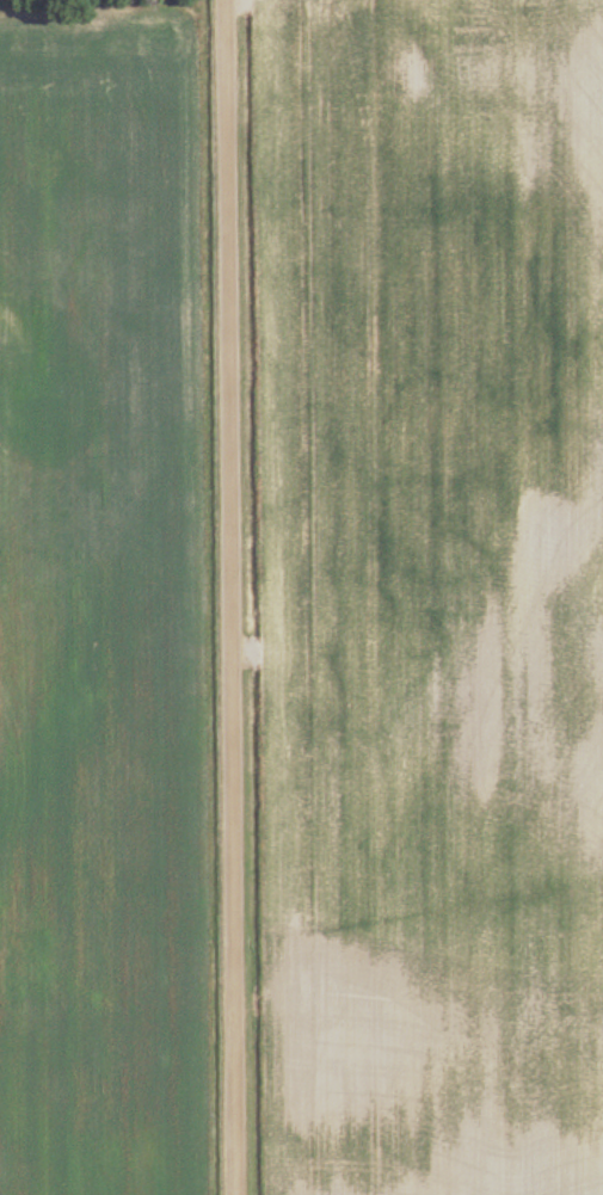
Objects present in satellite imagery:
road: (232, 597)

